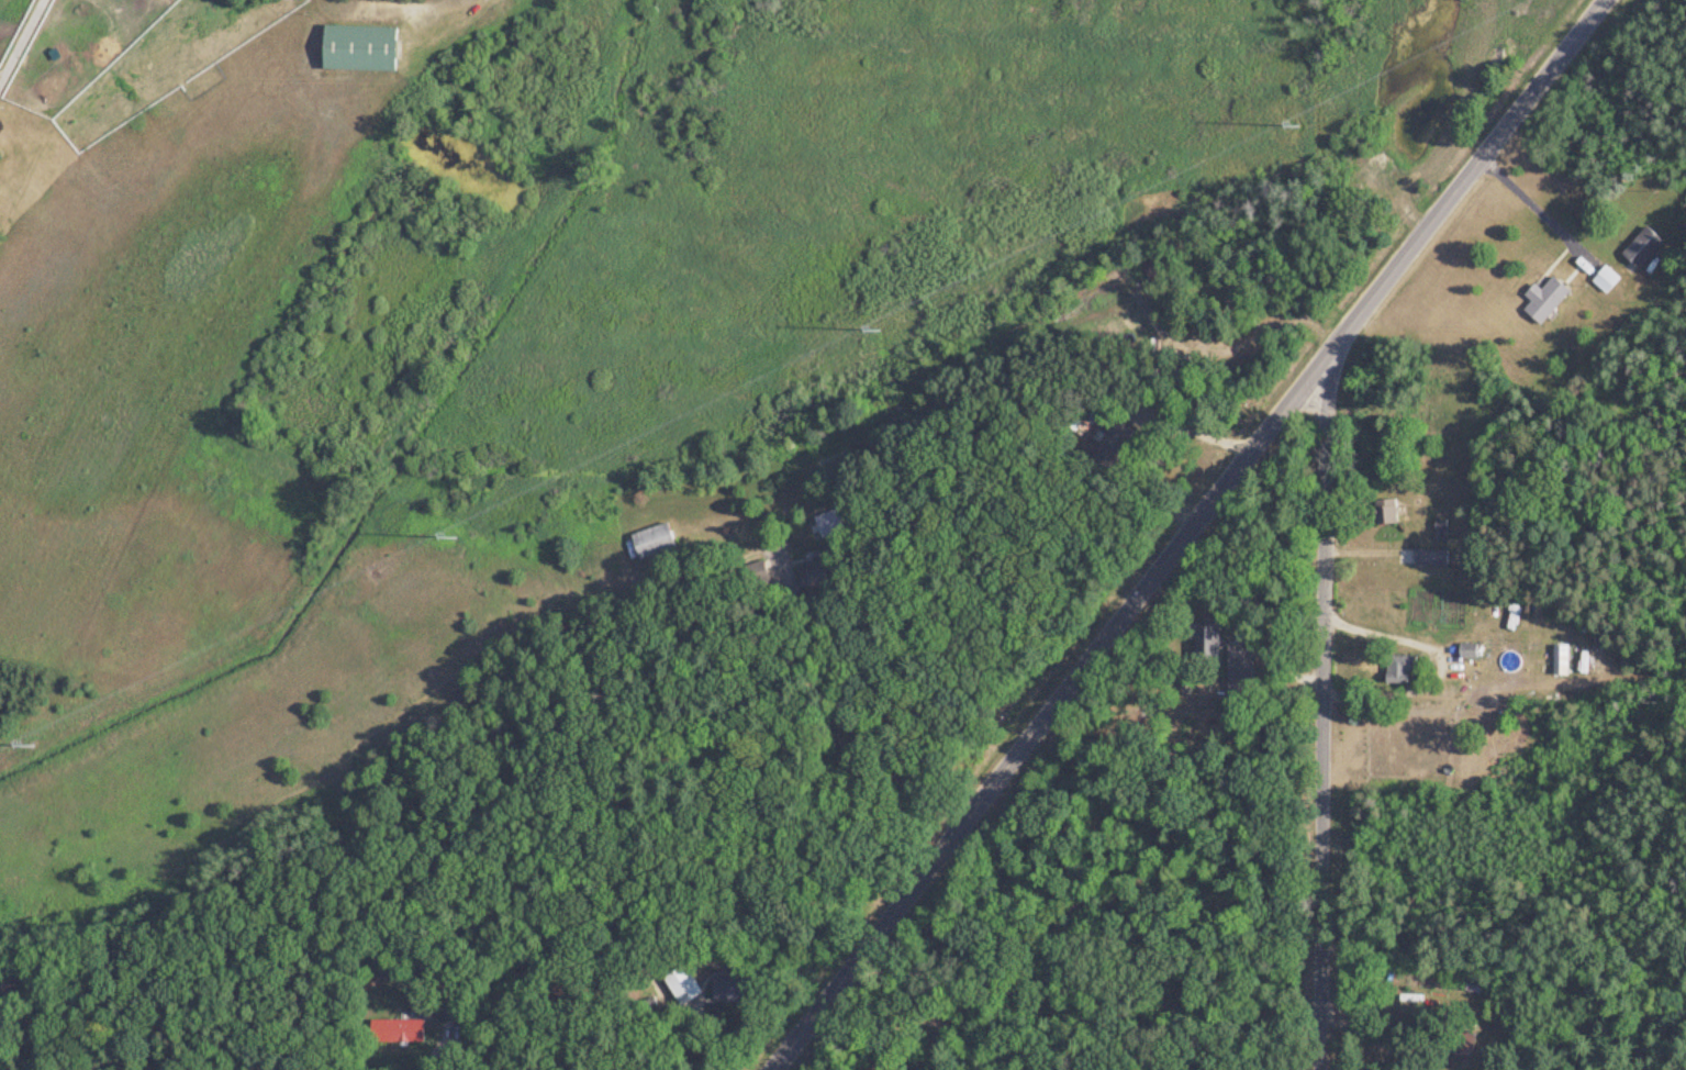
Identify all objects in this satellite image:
road: (20, 41)
building: (355, 48)
power tower: (1293, 123)
road: (1536, 203)
building: (1639, 247)
building: (1603, 280)
building: (1542, 300)
power tower: (880, 327)
road: (1188, 423)
road: (1181, 532)
building: (1438, 532)
power tower: (457, 537)
building: (650, 542)
building: (1421, 558)
building: (811, 571)
building: (1464, 651)
building: (1557, 660)
building: (1396, 669)
road: (1326, 704)
power tower: (34, 747)
building: (685, 987)
building: (730, 990)
building: (449, 1012)
road: (435, 1056)
road: (1337, 1065)

